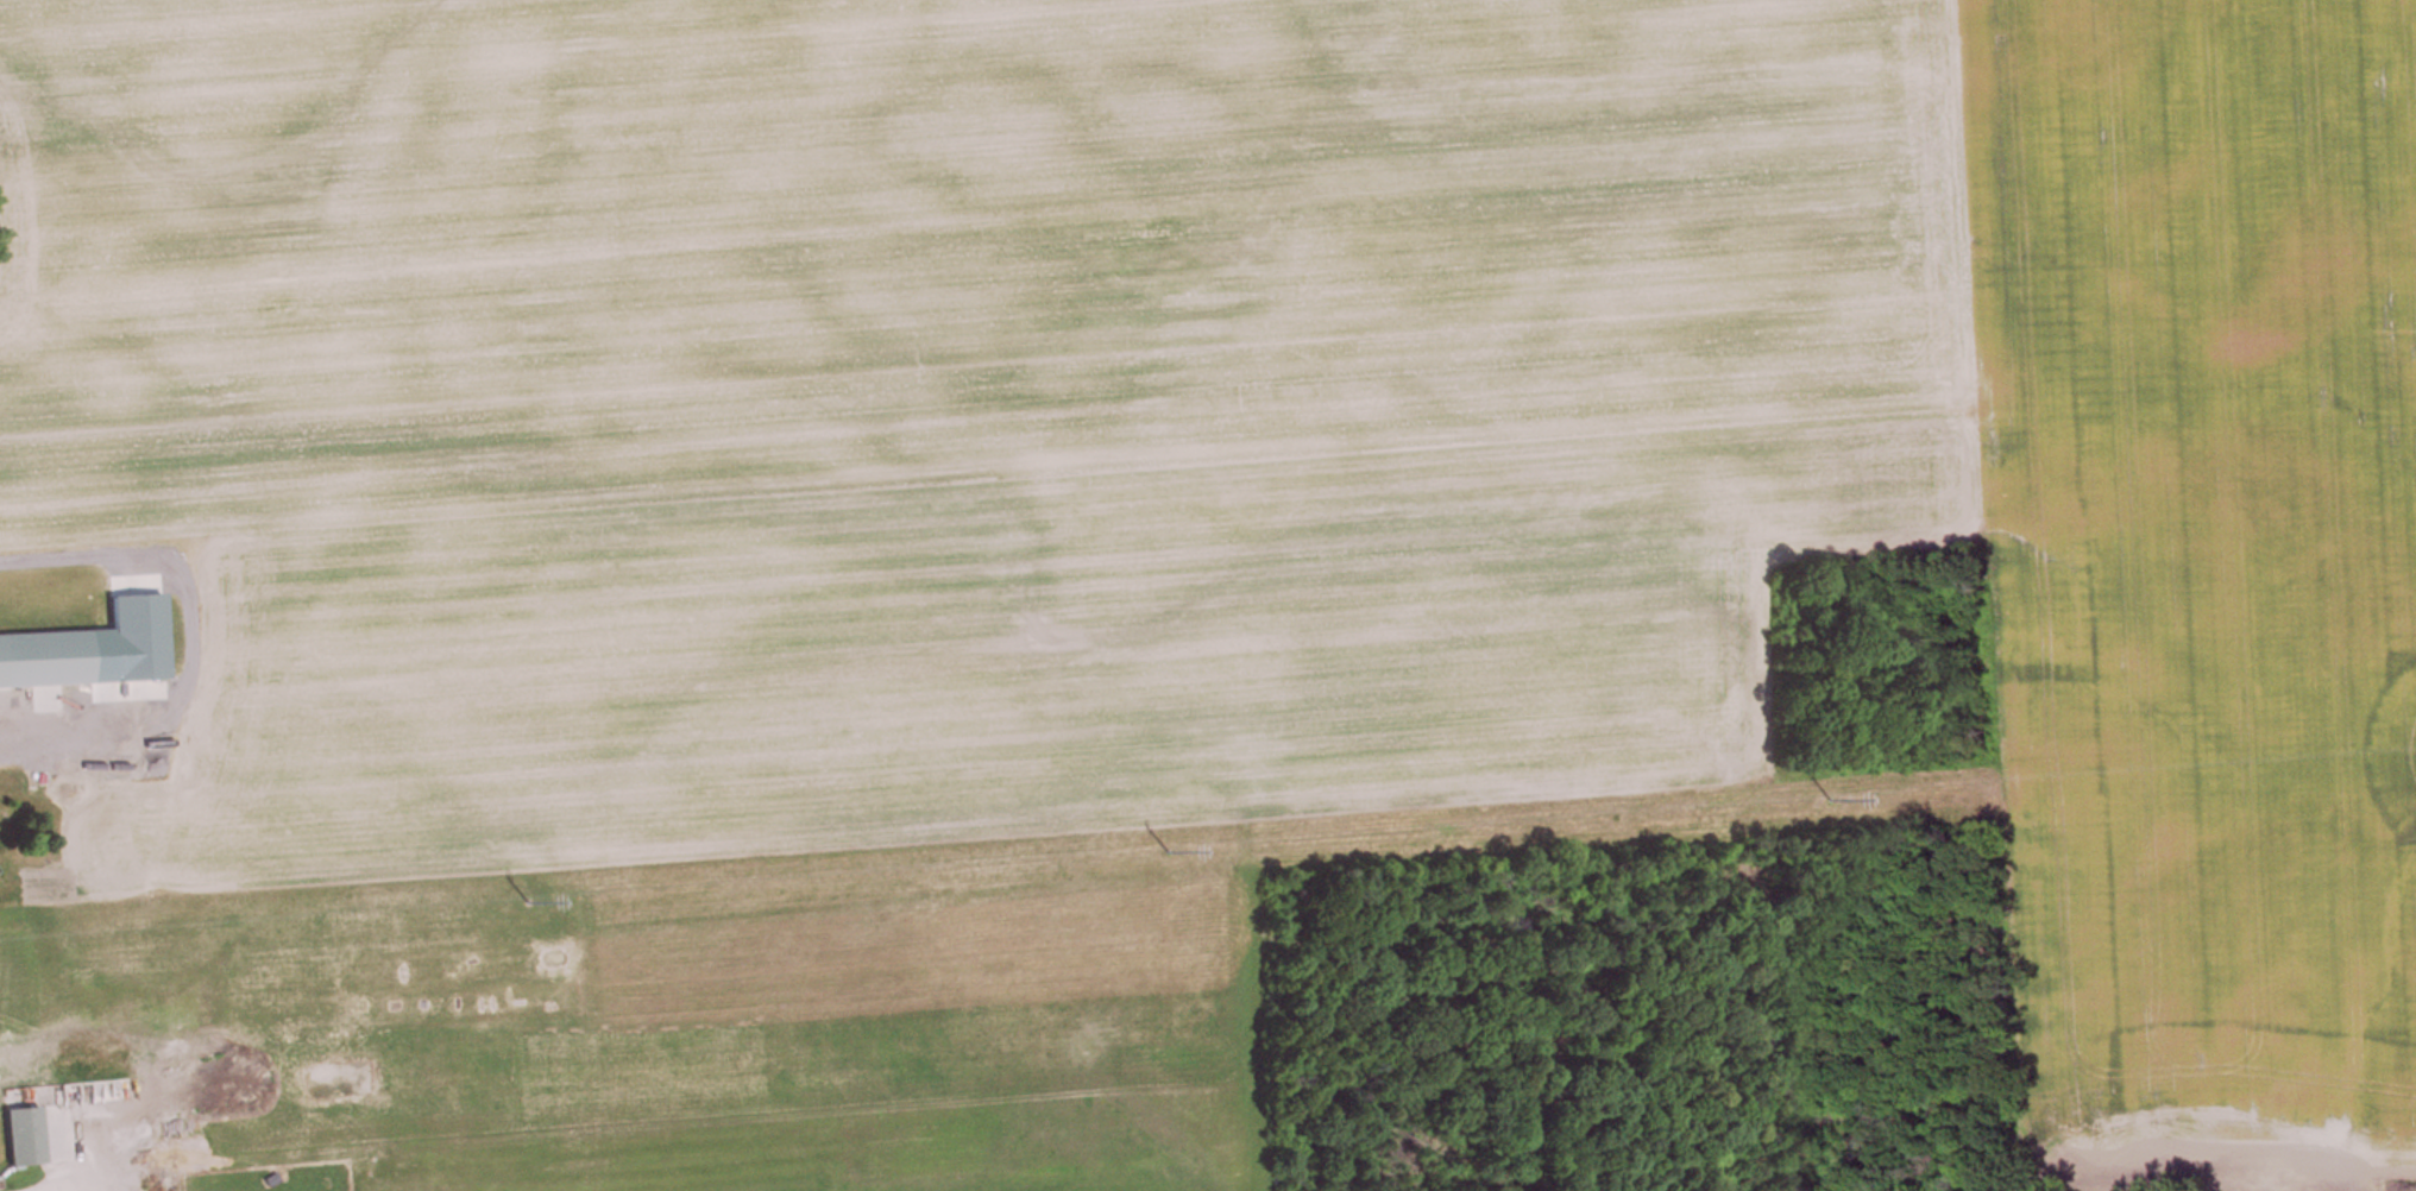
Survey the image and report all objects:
road: (190, 632)
building: (44, 662)
power tower: (1835, 801)
power tower: (1170, 855)
power tower: (530, 905)
building: (23, 1139)

